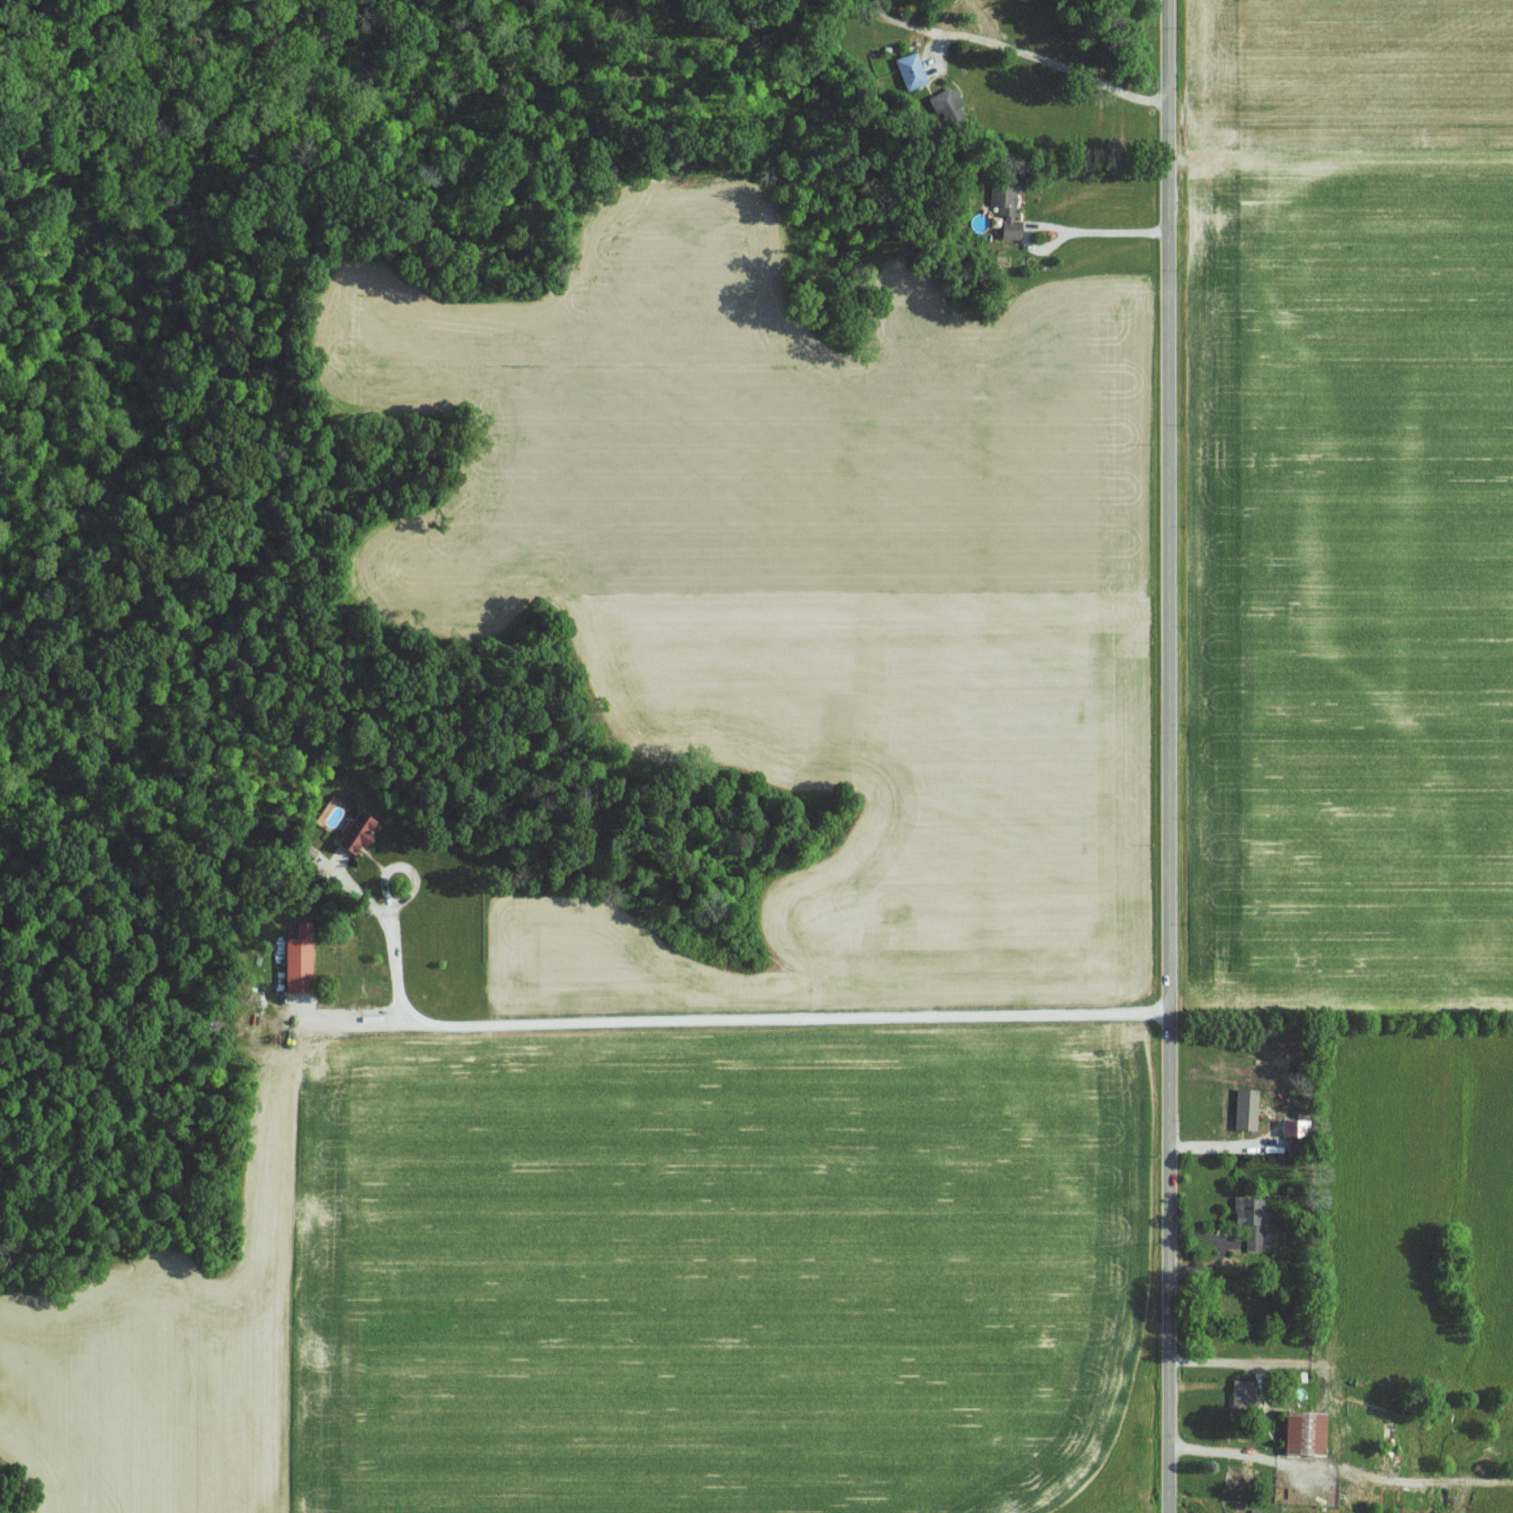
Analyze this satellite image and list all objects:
road: (1049, 59)
building: (908, 70)
building: (947, 106)
building: (1002, 207)
road: (1065, 225)
road: (1170, 756)
building: (353, 833)
building: (293, 964)
road: (748, 1019)
building: (1243, 1109)
building: (1286, 1128)
building: (1248, 1220)
building: (1240, 1391)
building: (1302, 1431)
road: (1341, 1470)

